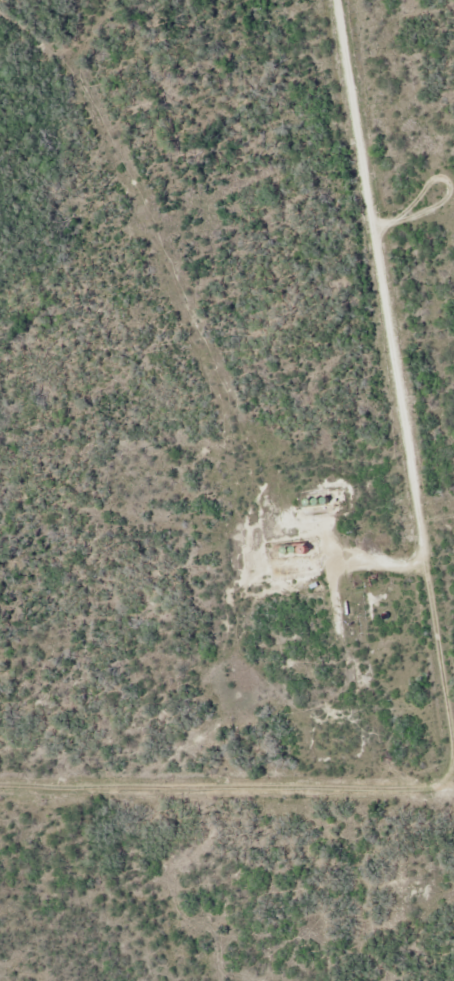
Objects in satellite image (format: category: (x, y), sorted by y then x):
building: (335, 495)
silo: (335, 495)
road: (403, 583)

